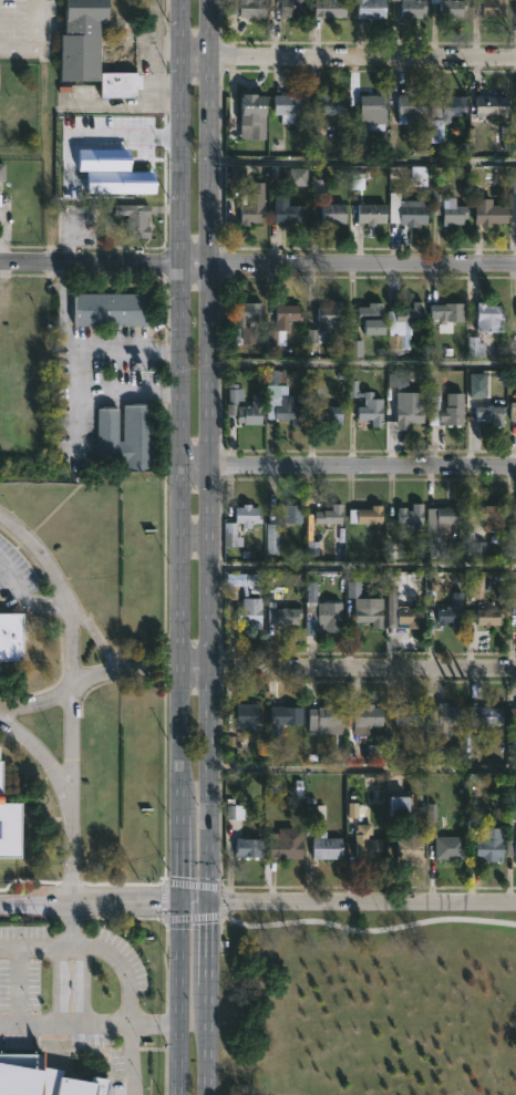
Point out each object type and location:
building: (248, 8)
building: (332, 8)
building: (415, 8)
building: (453, 8)
building: (295, 9)
building: (373, 9)
building: (499, 9)
road: (182, 35)
road: (210, 37)
road: (31, 41)
building: (100, 42)
road: (362, 69)
road: (196, 72)
road: (127, 103)
building: (333, 104)
building: (493, 105)
building: (290, 107)
building: (374, 110)
building: (412, 111)
building: (255, 114)
building: (437, 128)
building: (109, 135)
road: (126, 135)
building: (2, 173)
building: (106, 180)
building: (513, 203)
building: (255, 205)
building: (448, 208)
building: (289, 211)
building: (412, 211)
building: (336, 214)
building: (374, 214)
building: (493, 215)
building: (135, 219)
road: (258, 261)
building: (113, 309)
building: (447, 310)
building: (249, 311)
building: (492, 319)
building: (328, 323)
building: (392, 323)
building: (283, 324)
road: (66, 327)
road: (128, 353)
road: (361, 362)
road: (128, 389)
building: (367, 404)
building: (246, 406)
building: (514, 410)
building: (290, 411)
building: (326, 415)
building: (410, 415)
building: (447, 415)
building: (493, 415)
road: (80, 416)
building: (131, 437)
road: (347, 472)
building: (248, 514)
building: (291, 514)
building: (331, 514)
building: (369, 516)
building: (451, 516)
building: (413, 518)
building: (495, 518)
building: (512, 533)
road: (194, 535)
road: (179, 537)
road: (209, 538)
building: (440, 548)
road: (362, 562)
building: (367, 603)
building: (323, 608)
building: (252, 611)
building: (285, 614)
building: (413, 616)
building: (453, 616)
building: (491, 616)
road: (92, 636)
building: (10, 637)
road: (124, 668)
road: (363, 670)
road: (195, 671)
road: (72, 683)
road: (37, 698)
building: (411, 714)
building: (287, 715)
building: (487, 715)
building: (370, 716)
building: (450, 716)
building: (514, 716)
building: (250, 717)
building: (329, 719)
building: (0, 752)
road: (362, 767)
building: (403, 808)
building: (10, 823)
road: (69, 841)
building: (287, 844)
building: (368, 844)
building: (413, 844)
building: (328, 846)
building: (250, 847)
building: (451, 847)
building: (491, 847)
building: (512, 847)
road: (190, 882)
road: (162, 899)
road: (90, 900)
road: (221, 900)
traffic signals: (179, 901)
traffic signals: (209, 901)
road: (347, 903)
road: (192, 917)
road: (74, 922)
road: (368, 930)
road: (38, 947)
road: (120, 967)
road: (14, 984)
park: (367, 1002)
park: (370, 1003)
road: (64, 1021)
road: (154, 1023)
road: (177, 1048)
road: (207, 1050)
road: (133, 1058)
building: (42, 1078)

